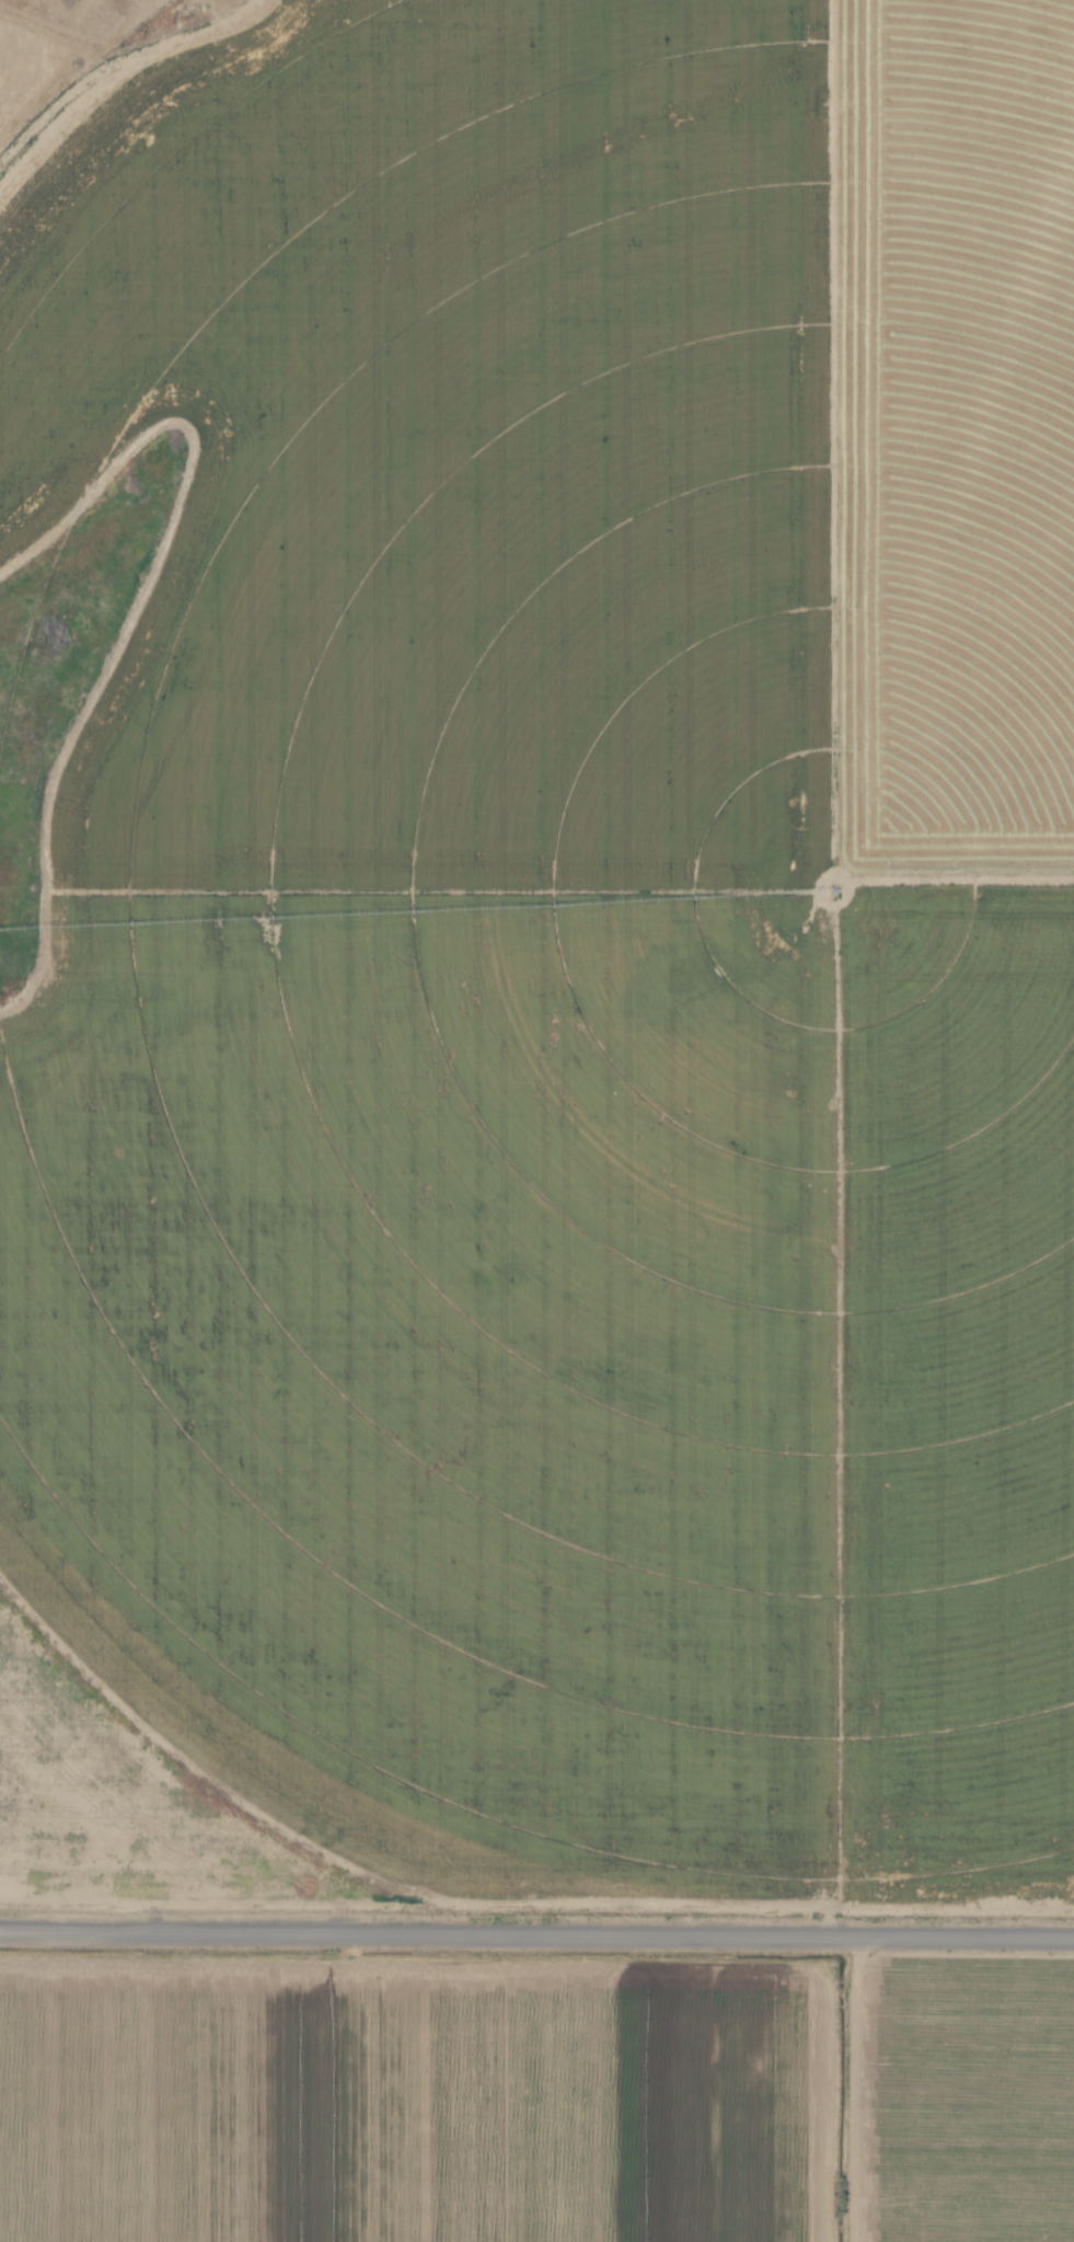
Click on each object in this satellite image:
crop: (565, 920)
road: (536, 1936)
crop: (534, 2100)

